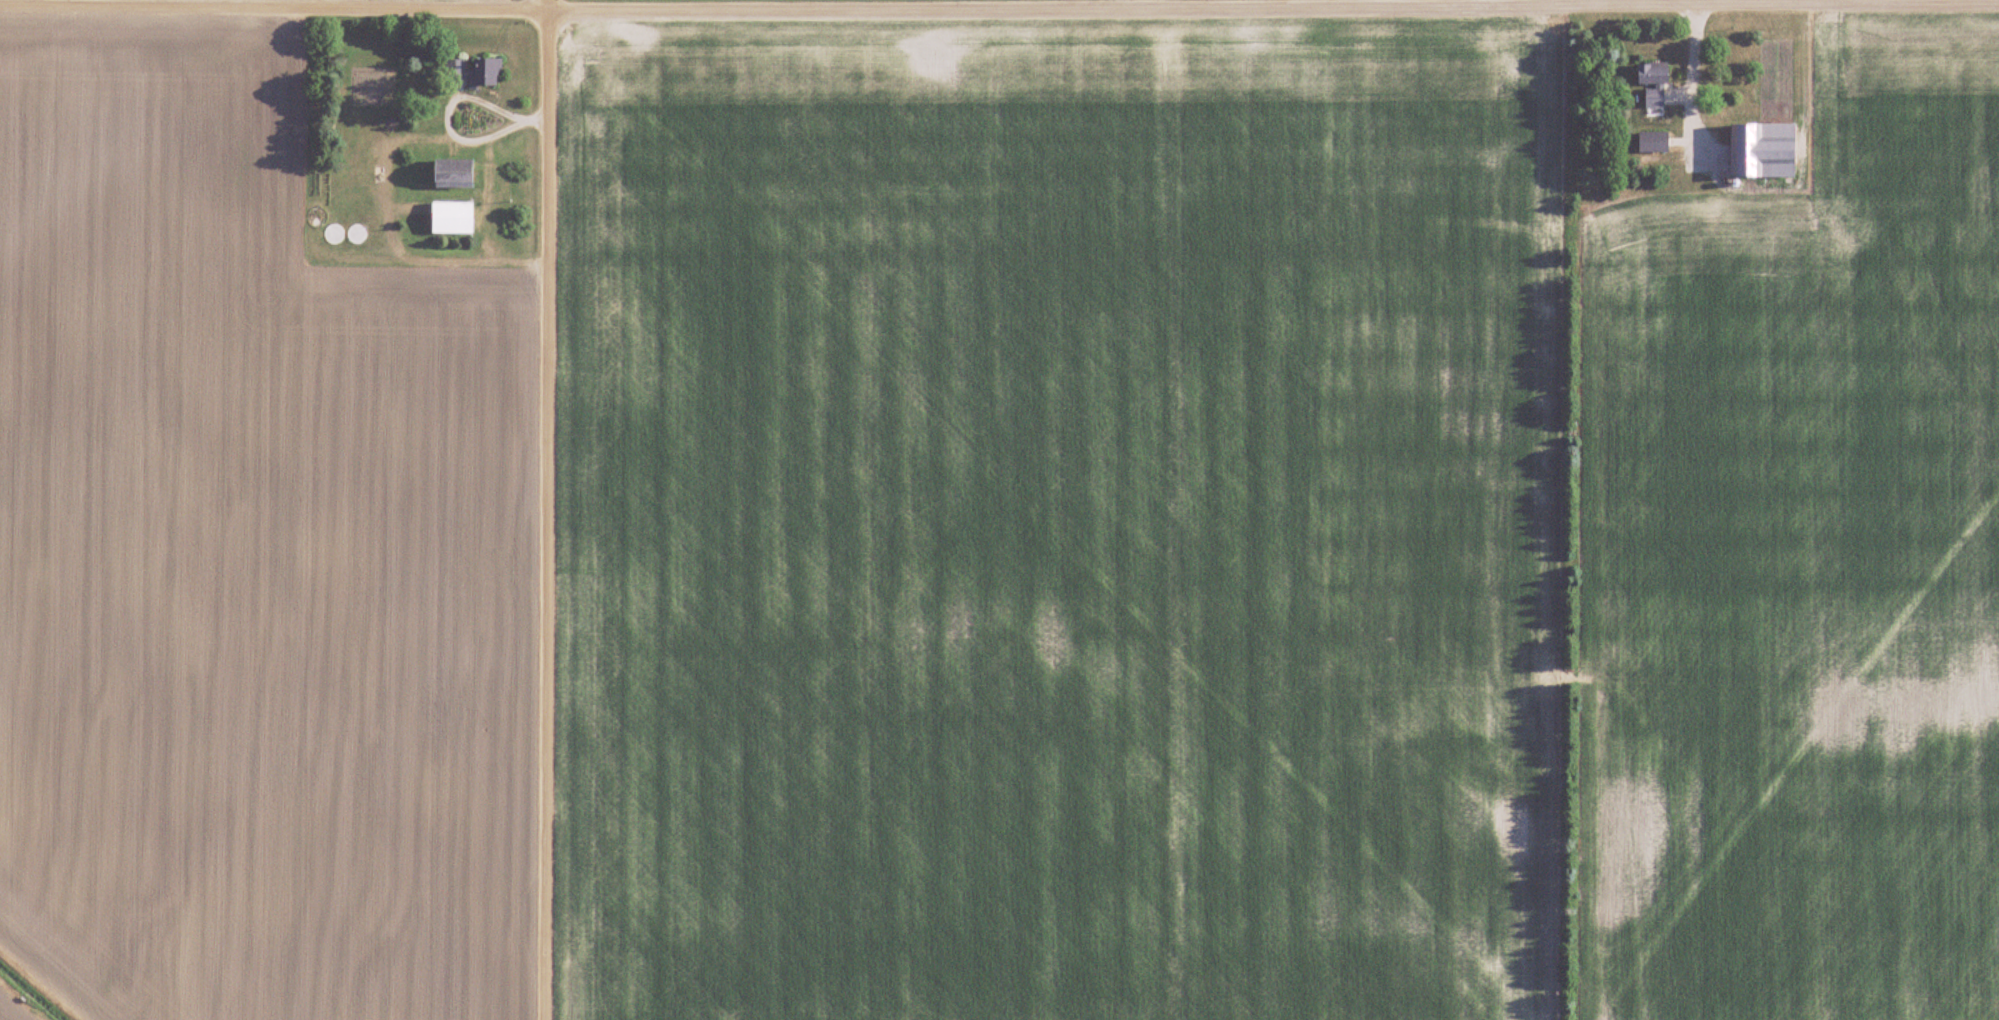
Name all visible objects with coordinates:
road: (1463, 3)
road: (999, 9)
building: (485, 72)
building: (454, 75)
road: (1691, 79)
building: (1653, 82)
road: (450, 106)
building: (1653, 142)
building: (1763, 150)
building: (452, 173)
building: (451, 218)
building: (355, 233)
building: (333, 235)
road: (543, 510)

